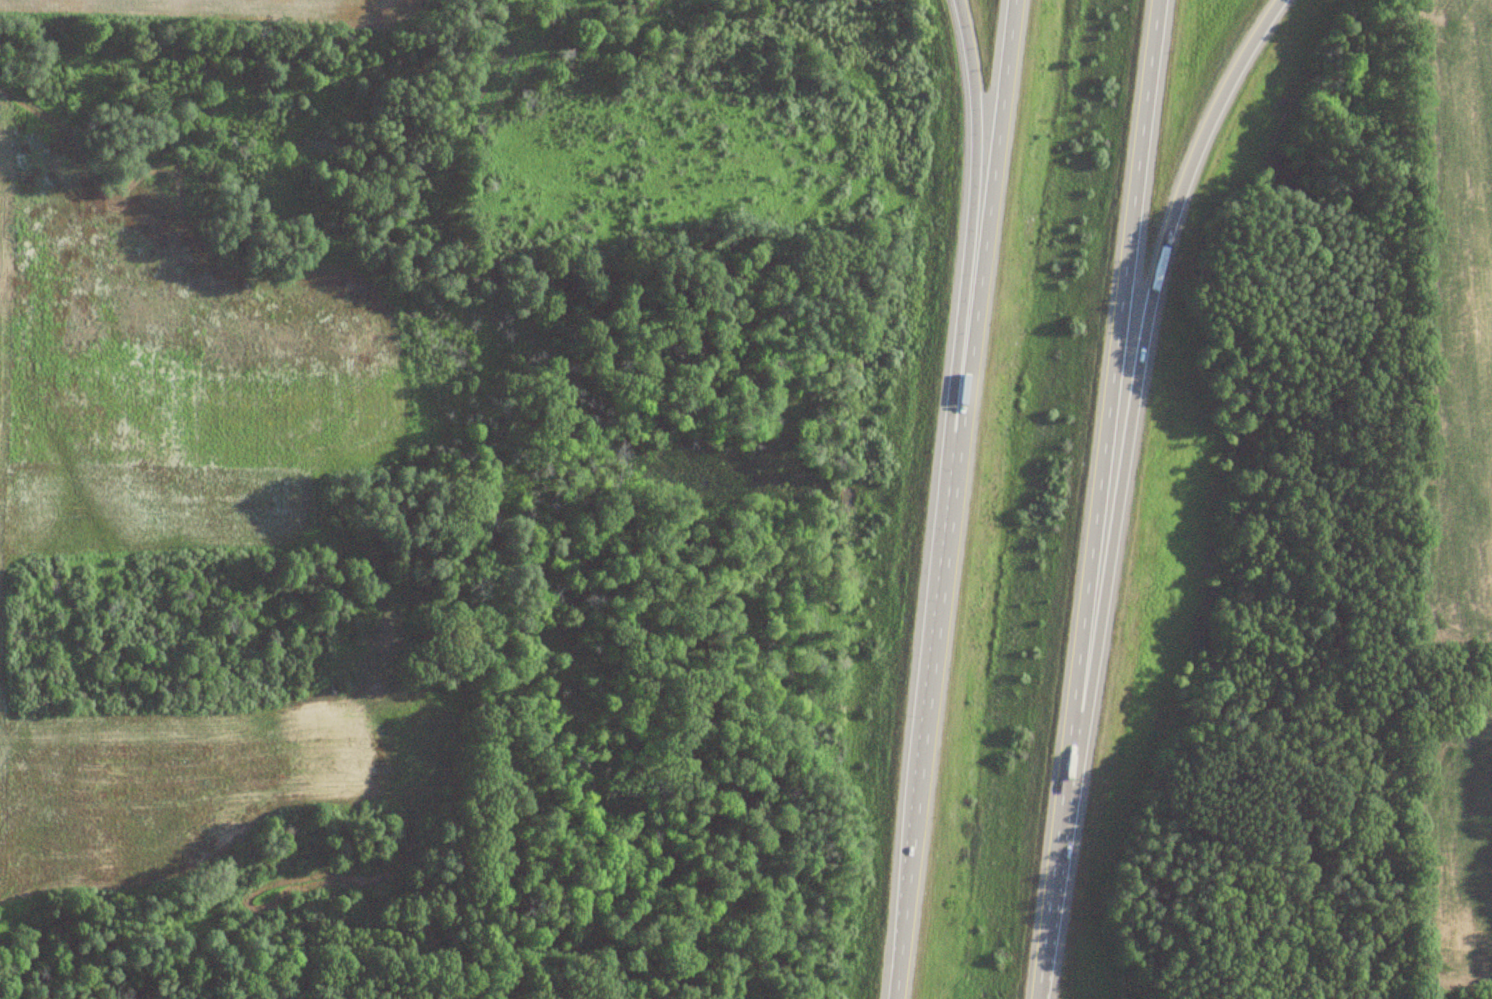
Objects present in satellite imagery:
road: (968, 239)
road: (1135, 379)
road: (954, 499)
road: (1095, 499)

